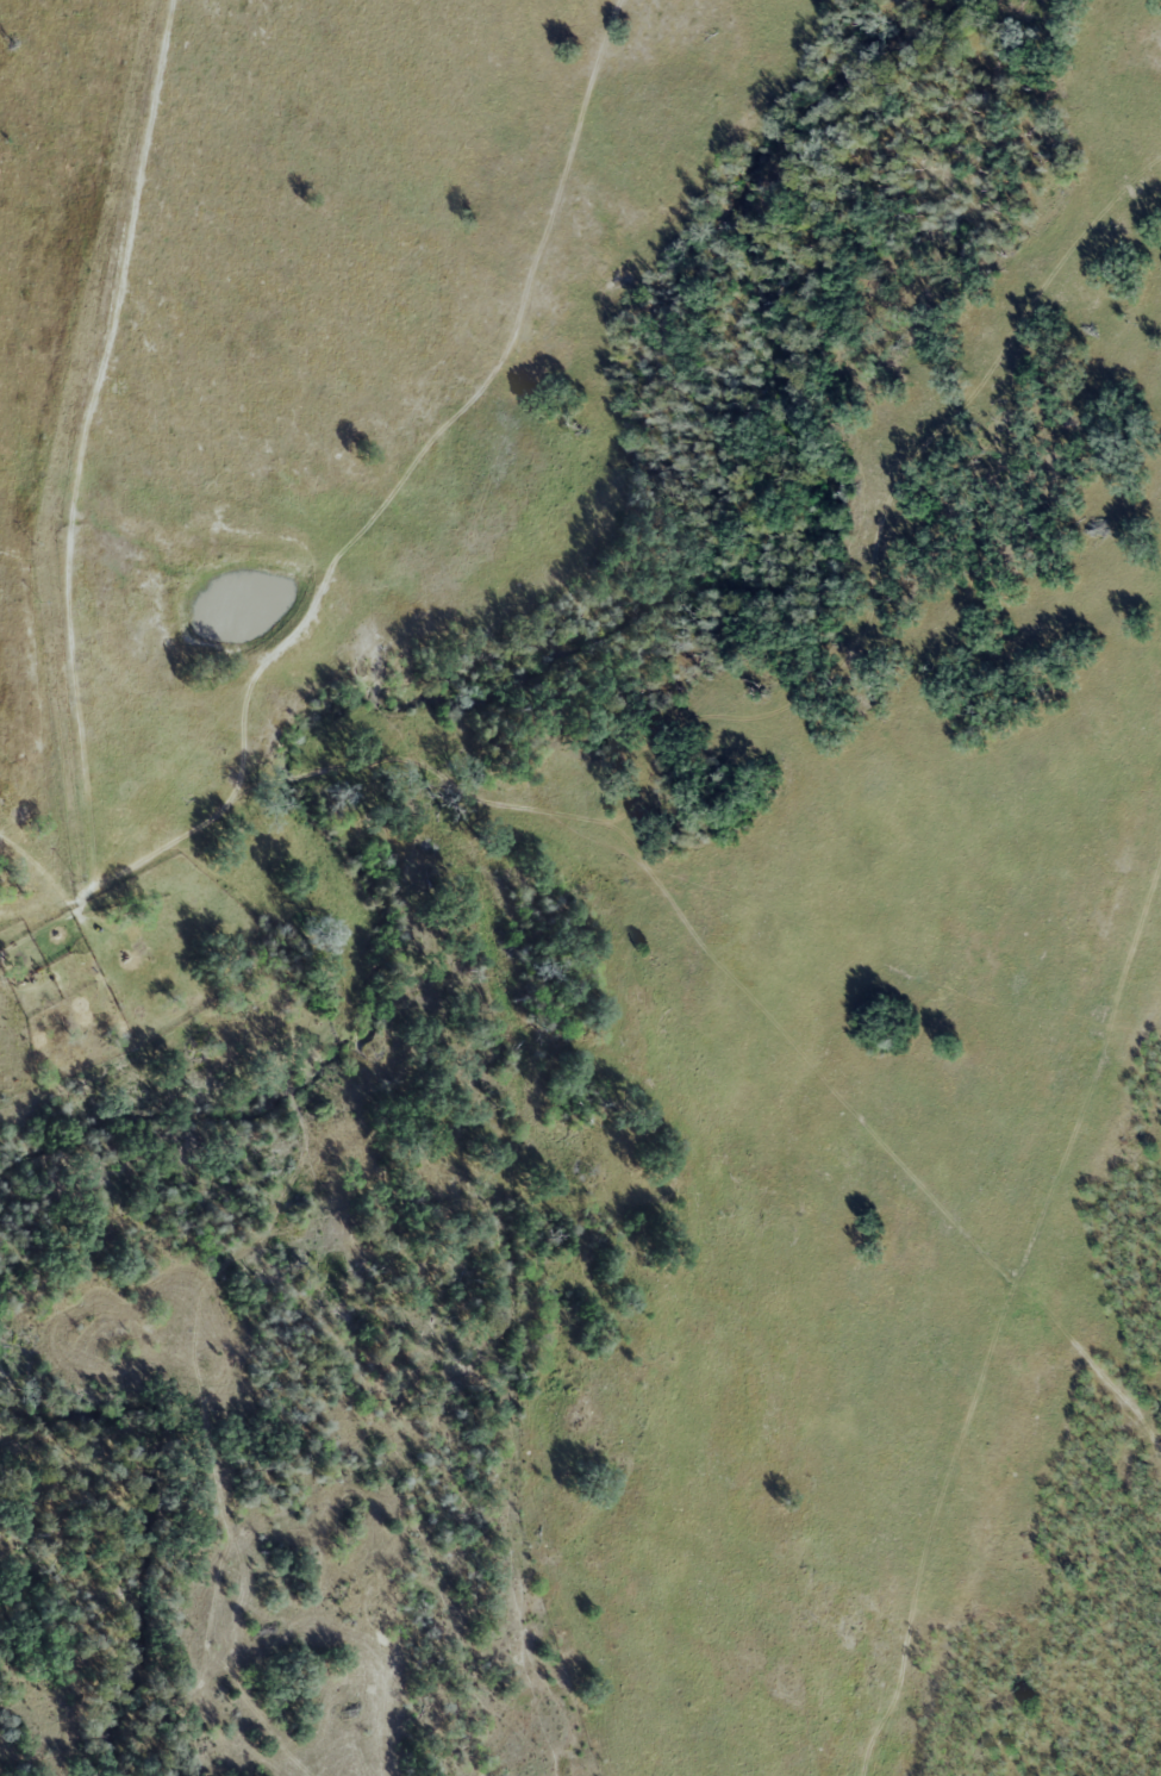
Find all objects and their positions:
road: (520, 306)
road: (81, 441)
road: (233, 798)

